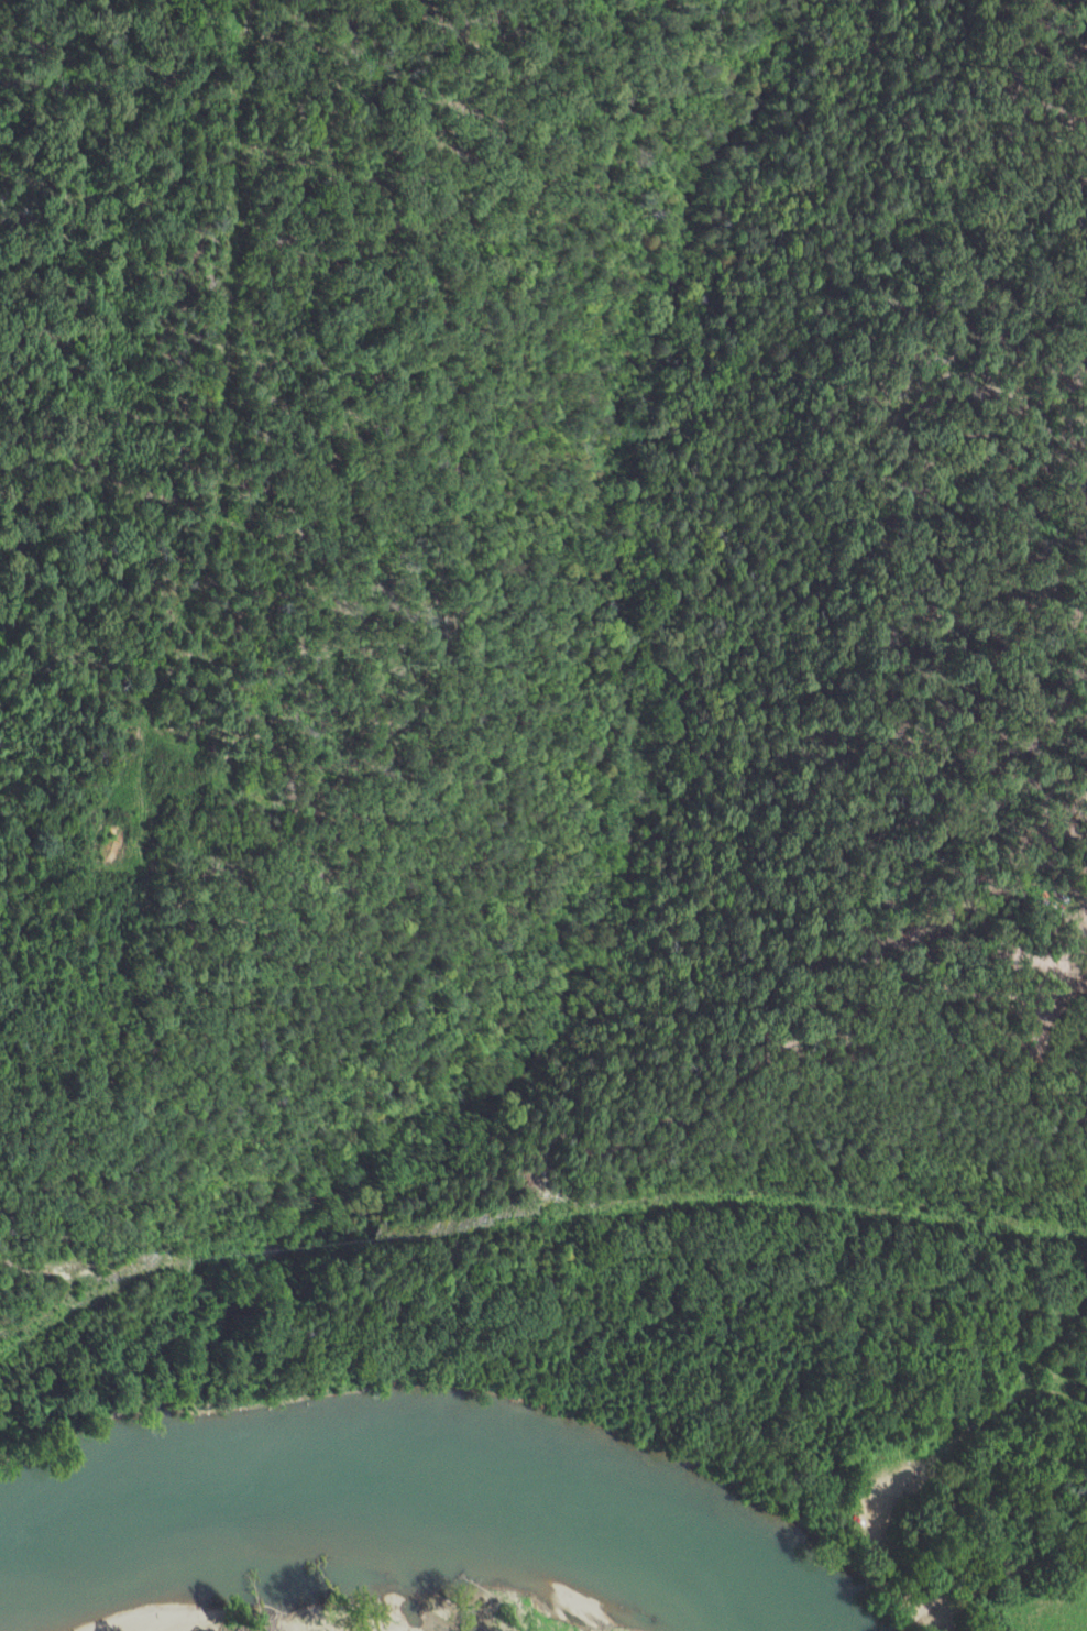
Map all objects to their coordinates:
river: (396, 1492)
road: (863, 1520)
road: (551, 1613)

